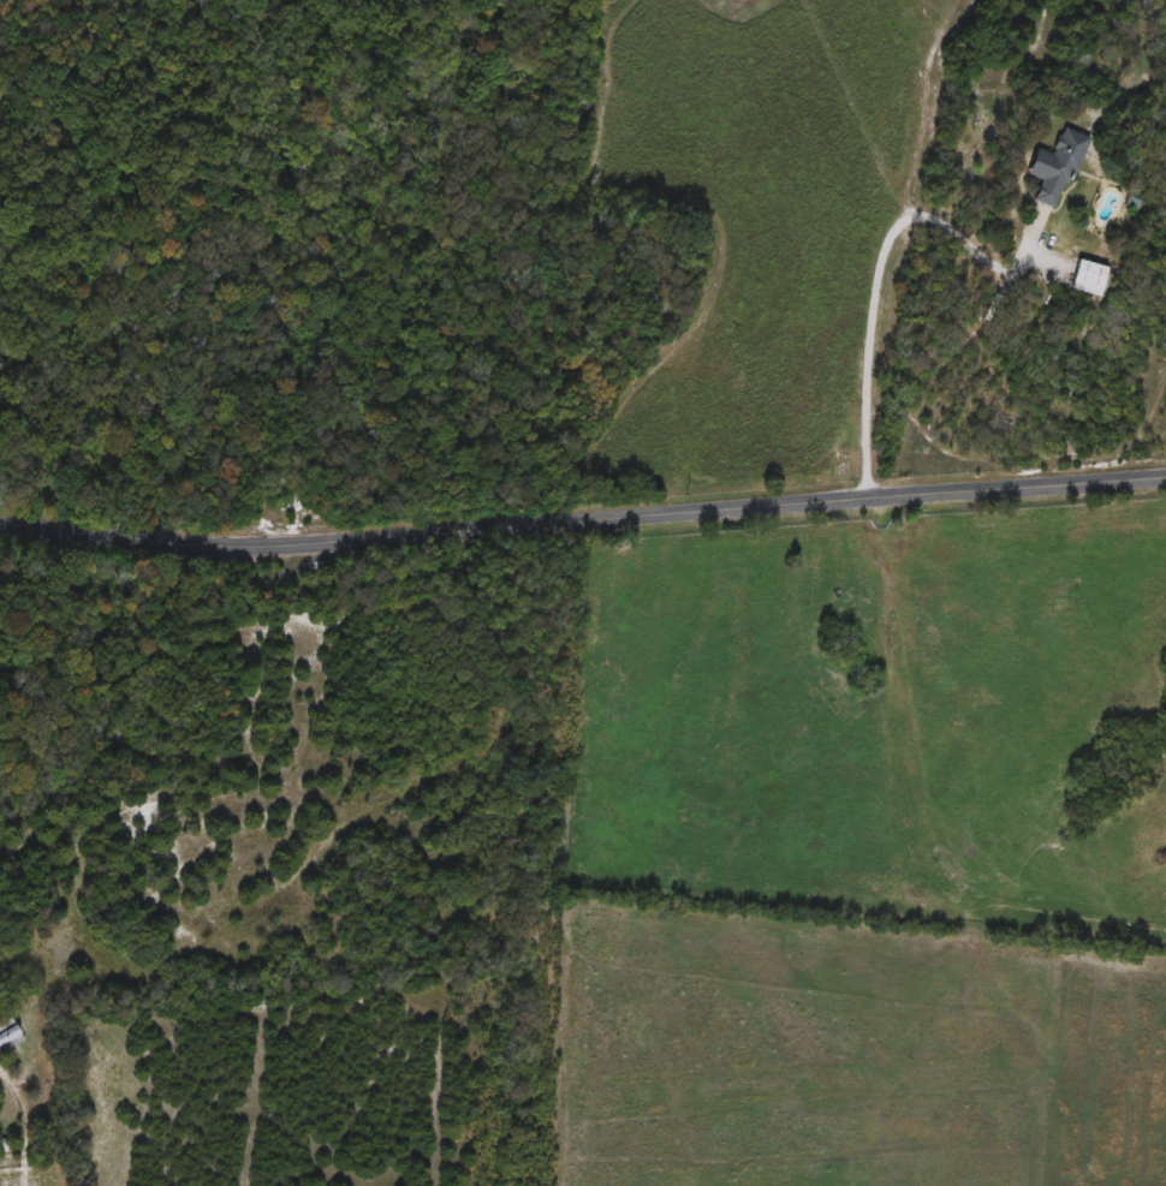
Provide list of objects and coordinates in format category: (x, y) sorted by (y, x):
building: (1052, 168)
building: (1085, 280)
road: (884, 291)
road: (582, 515)
building: (10, 1033)
road: (19, 1127)

